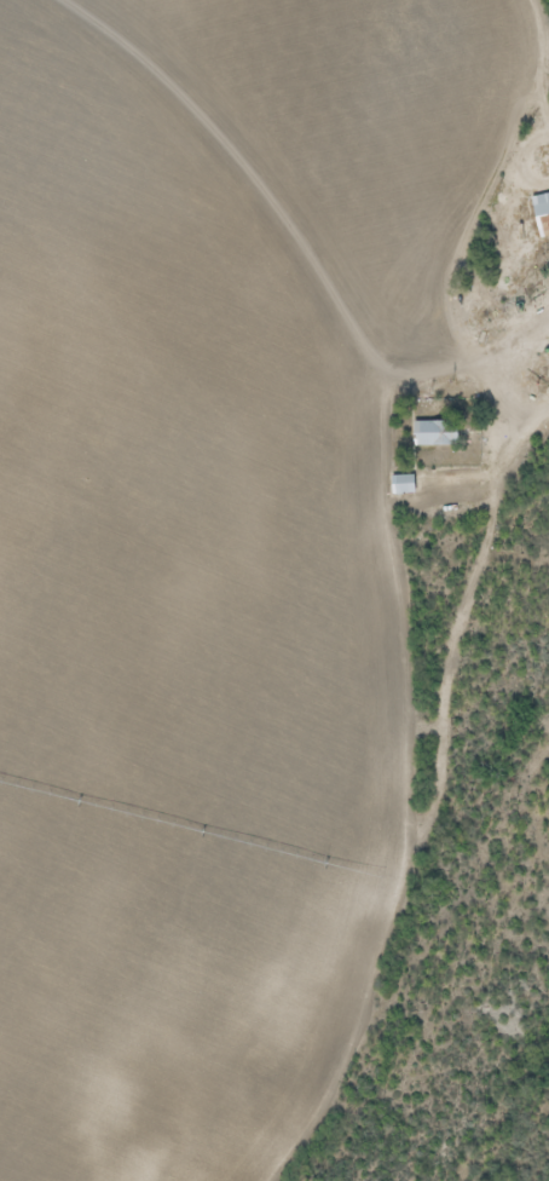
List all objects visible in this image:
road: (481, 214)
building: (541, 214)
building: (432, 434)
road: (520, 443)
building: (399, 484)

